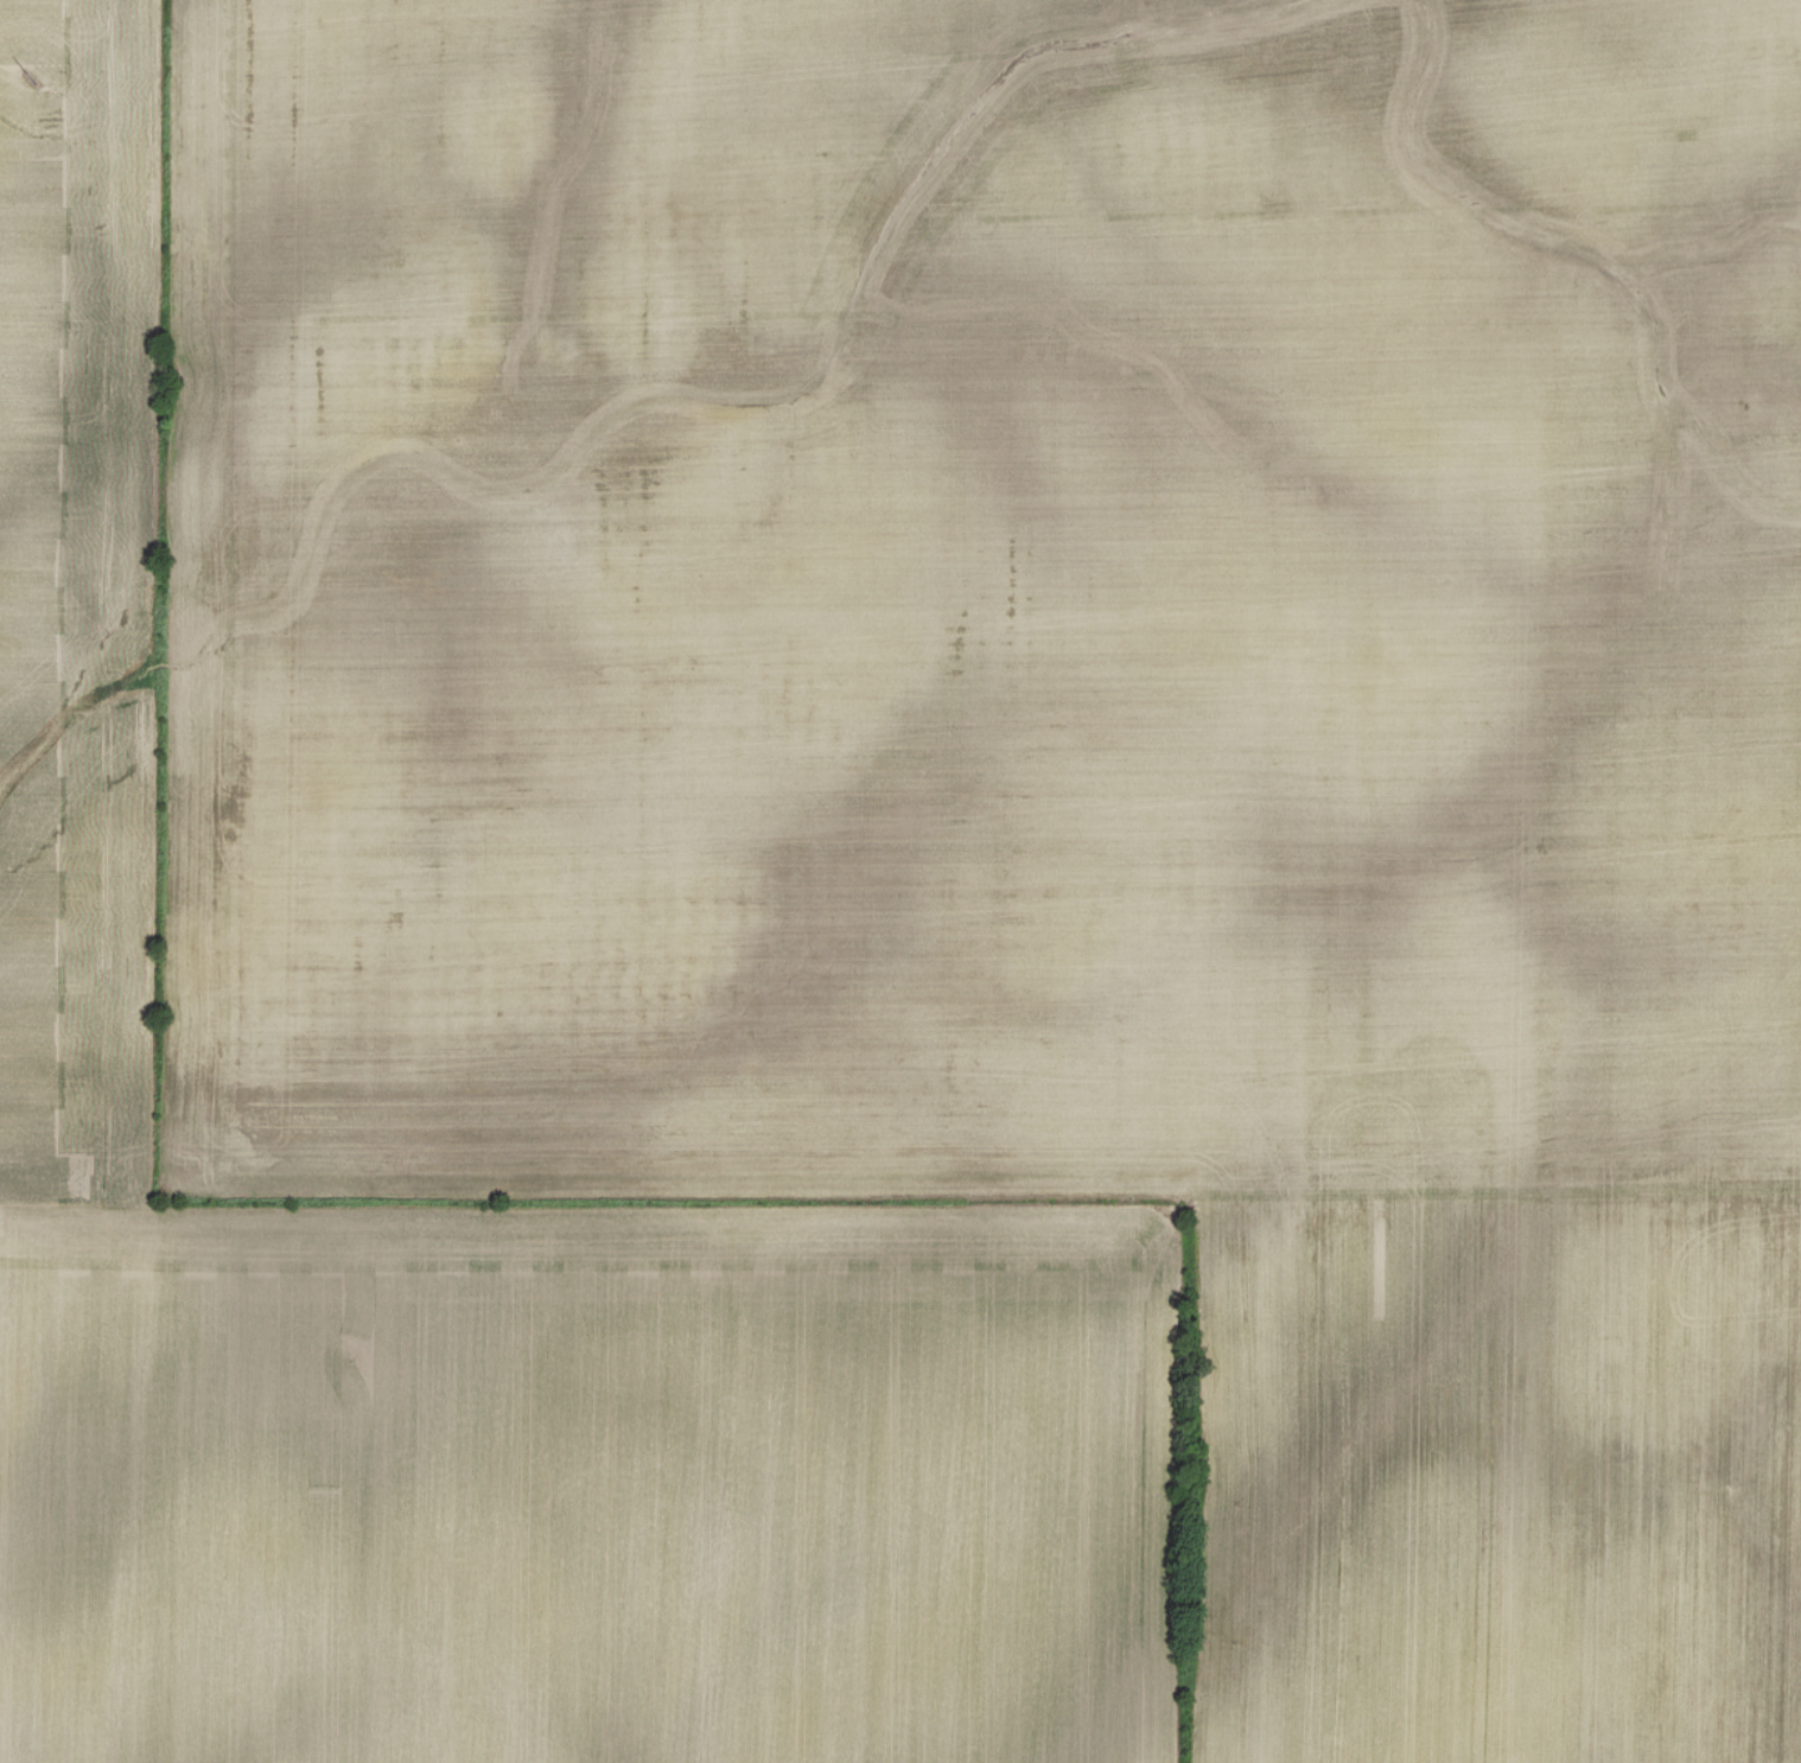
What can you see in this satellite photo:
power tower: (31, 79)

